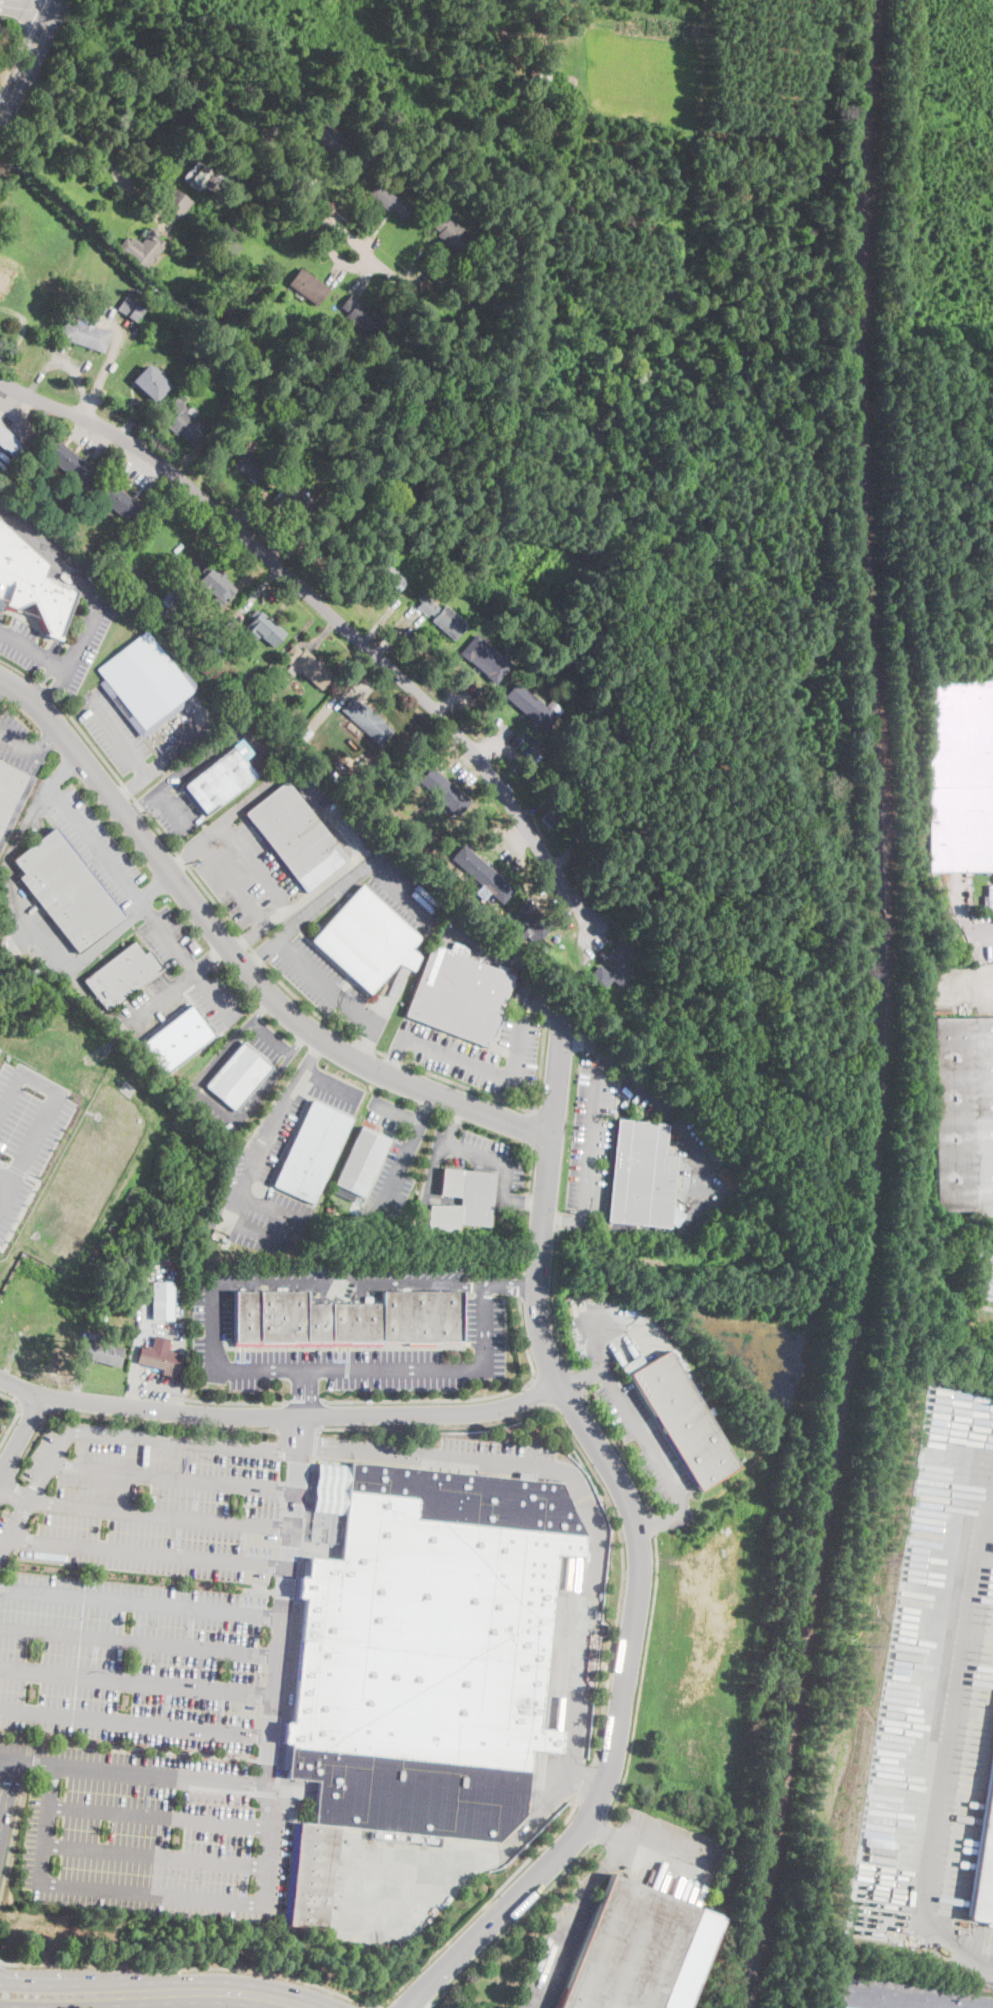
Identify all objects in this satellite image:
crop: (688, 1)
road: (37, 2)
road: (32, 14)
road: (20, 48)
road: (29, 59)
crop: (641, 69)
building: (539, 73)
road: (263, 104)
road: (224, 118)
building: (334, 140)
road: (112, 159)
road: (314, 175)
building: (207, 177)
building: (391, 199)
building: (175, 200)
building: (450, 231)
road: (379, 234)
building: (142, 249)
road: (329, 249)
road: (428, 266)
road: (336, 273)
road: (370, 278)
building: (6, 279)
building: (309, 287)
building: (61, 290)
building: (130, 309)
building: (224, 309)
building: (361, 314)
building: (44, 328)
road: (24, 330)
building: (84, 334)
road: (69, 365)
road: (108, 366)
building: (152, 383)
road: (125, 406)
road: (7, 411)
parking lot: (9, 415)
road: (72, 419)
building: (183, 421)
building: (0, 422)
road: (150, 429)
parking lot: (85, 438)
building: (11, 445)
road: (145, 458)
parking lot: (4, 460)
building: (68, 461)
road: (142, 464)
building: (250, 465)
parking lot: (139, 471)
road: (209, 471)
building: (289, 498)
building: (117, 500)
road: (263, 524)
building: (324, 525)
building: (407, 525)
building: (76, 534)
road: (289, 542)
building: (435, 551)
road: (50, 552)
road: (205, 554)
parking lot: (60, 557)
crop: (534, 567)
building: (385, 576)
building: (31, 584)
building: (216, 587)
road: (311, 595)
road: (254, 596)
building: (173, 598)
road: (394, 599)
building: (163, 612)
building: (442, 616)
building: (265, 628)
road: (393, 628)
road: (320, 635)
road: (84, 636)
building: (221, 641)
road: (34, 651)
building: (210, 652)
building: (291, 654)
building: (486, 659)
road: (17, 667)
building: (312, 669)
road: (42, 682)
building: (145, 684)
road: (43, 687)
road: (50, 689)
road: (350, 691)
road: (460, 695)
building: (203, 705)
building: (531, 706)
building: (267, 709)
building: (367, 721)
road: (116, 733)
parking lot: (507, 737)
parking lot: (137, 738)
building: (301, 738)
road: (503, 739)
road: (48, 742)
parking lot: (19, 744)
road: (21, 745)
road: (461, 747)
road: (491, 749)
road: (177, 750)
parking lot: (462, 767)
road: (464, 767)
road: (64, 769)
road: (175, 775)
building: (961, 776)
building: (222, 779)
road: (130, 786)
building: (9, 790)
building: (445, 791)
parking lot: (177, 796)
road: (21, 800)
road: (141, 802)
road: (172, 808)
road: (532, 809)
building: (552, 815)
road: (332, 818)
road: (224, 821)
road: (509, 832)
building: (296, 836)
parking lot: (89, 841)
parking lot: (504, 847)
road: (257, 865)
parking lot: (244, 872)
building: (483, 874)
road: (557, 880)
road: (10, 881)
road: (232, 884)
road: (402, 890)
building: (66, 891)
parking lot: (403, 894)
parking lot: (559, 901)
road: (140, 902)
road: (296, 902)
road: (564, 903)
road: (580, 904)
road: (306, 913)
road: (965, 914)
building: (534, 919)
road: (121, 922)
parking lot: (33, 924)
road: (593, 932)
parking lot: (595, 934)
parking lot: (979, 936)
building: (367, 939)
road: (494, 954)
road: (236, 958)
road: (211, 959)
building: (614, 968)
building: (122, 975)
parking lot: (321, 979)
parking lot: (179, 980)
road: (973, 981)
road: (324, 983)
road: (285, 985)
parking lot: (963, 986)
road: (160, 996)
building: (459, 996)
road: (94, 1001)
road: (545, 1003)
railway: (876, 1008)
road: (263, 1009)
road: (381, 1013)
road: (272, 1037)
road: (580, 1039)
building: (178, 1040)
parking lot: (477, 1051)
road: (290, 1054)
road: (313, 1054)
road: (396, 1056)
road: (500, 1072)
road: (630, 1073)
parking lot: (202, 1077)
building: (239, 1077)
road: (205, 1093)
road: (47, 1107)
road: (424, 1107)
building: (963, 1114)
parking lot: (599, 1121)
road: (276, 1122)
road: (533, 1128)
parking lot: (26, 1131)
road: (590, 1132)
road: (409, 1145)
building: (312, 1152)
parking lot: (277, 1157)
parking lot: (394, 1159)
road: (2, 1162)
road: (499, 1162)
road: (433, 1163)
building: (360, 1164)
road: (14, 1168)
building: (641, 1175)
road: (4, 1178)
parking lot: (509, 1194)
building: (463, 1200)
road: (532, 1201)
road: (22, 1208)
road: (273, 1209)
building: (330, 1209)
road: (527, 1209)
road: (695, 1213)
road: (563, 1218)
building: (983, 1274)
road: (348, 1285)
road: (510, 1286)
road: (520, 1286)
road: (554, 1298)
road: (177, 1300)
building: (162, 1301)
building: (100, 1315)
building: (247, 1316)
building: (420, 1316)
parking lot: (985, 1316)
building: (293, 1318)
road: (143, 1321)
parking lot: (485, 1322)
building: (357, 1323)
road: (626, 1324)
building: (102, 1350)
building: (160, 1357)
road: (12, 1363)
road: (347, 1368)
road: (582, 1376)
road: (79, 1380)
road: (576, 1380)
parking lot: (623, 1390)
road: (542, 1391)
road: (306, 1392)
road: (472, 1398)
road: (303, 1401)
road: (234, 1402)
road: (33, 1407)
road: (625, 1407)
road: (16, 1415)
road: (280, 1417)
building: (682, 1418)
road: (131, 1419)
road: (297, 1429)
road: (114, 1434)
road: (21, 1437)
road: (371, 1450)
road: (620, 1451)
parking lot: (496, 1457)
road: (497, 1464)
road: (590, 1465)
road: (174, 1478)
road: (8, 1486)
road: (14, 1493)
road: (162, 1515)
road: (668, 1519)
road: (652, 1524)
building: (334, 1536)
road: (637, 1538)
road: (150, 1552)
road: (664, 1559)
parking lot: (139, 1585)
road: (286, 1601)
road: (142, 1602)
road: (140, 1640)
building: (436, 1658)
road: (294, 1677)
road: (642, 1677)
road: (138, 1681)
parking lot: (937, 1706)
road: (136, 1723)
road: (574, 1738)
road: (950, 1745)
road: (128, 1747)
road: (133, 1773)
road: (3, 1778)
road: (588, 1780)
road: (587, 1784)
road: (161, 1815)
road: (47, 1824)
road: (601, 1829)
parking lot: (151, 1833)
road: (606, 1833)
road: (662, 1839)
road: (13, 1844)
road: (270, 1845)
road: (157, 1854)
building: (984, 1860)
road: (600, 1871)
building: (313, 1877)
road: (153, 1893)
road: (509, 1924)
building: (629, 1949)
parking lot: (557, 1953)
road: (556, 1955)
road: (334, 1991)
road: (156, 1992)
building: (902, 1996)
road: (382, 2006)

